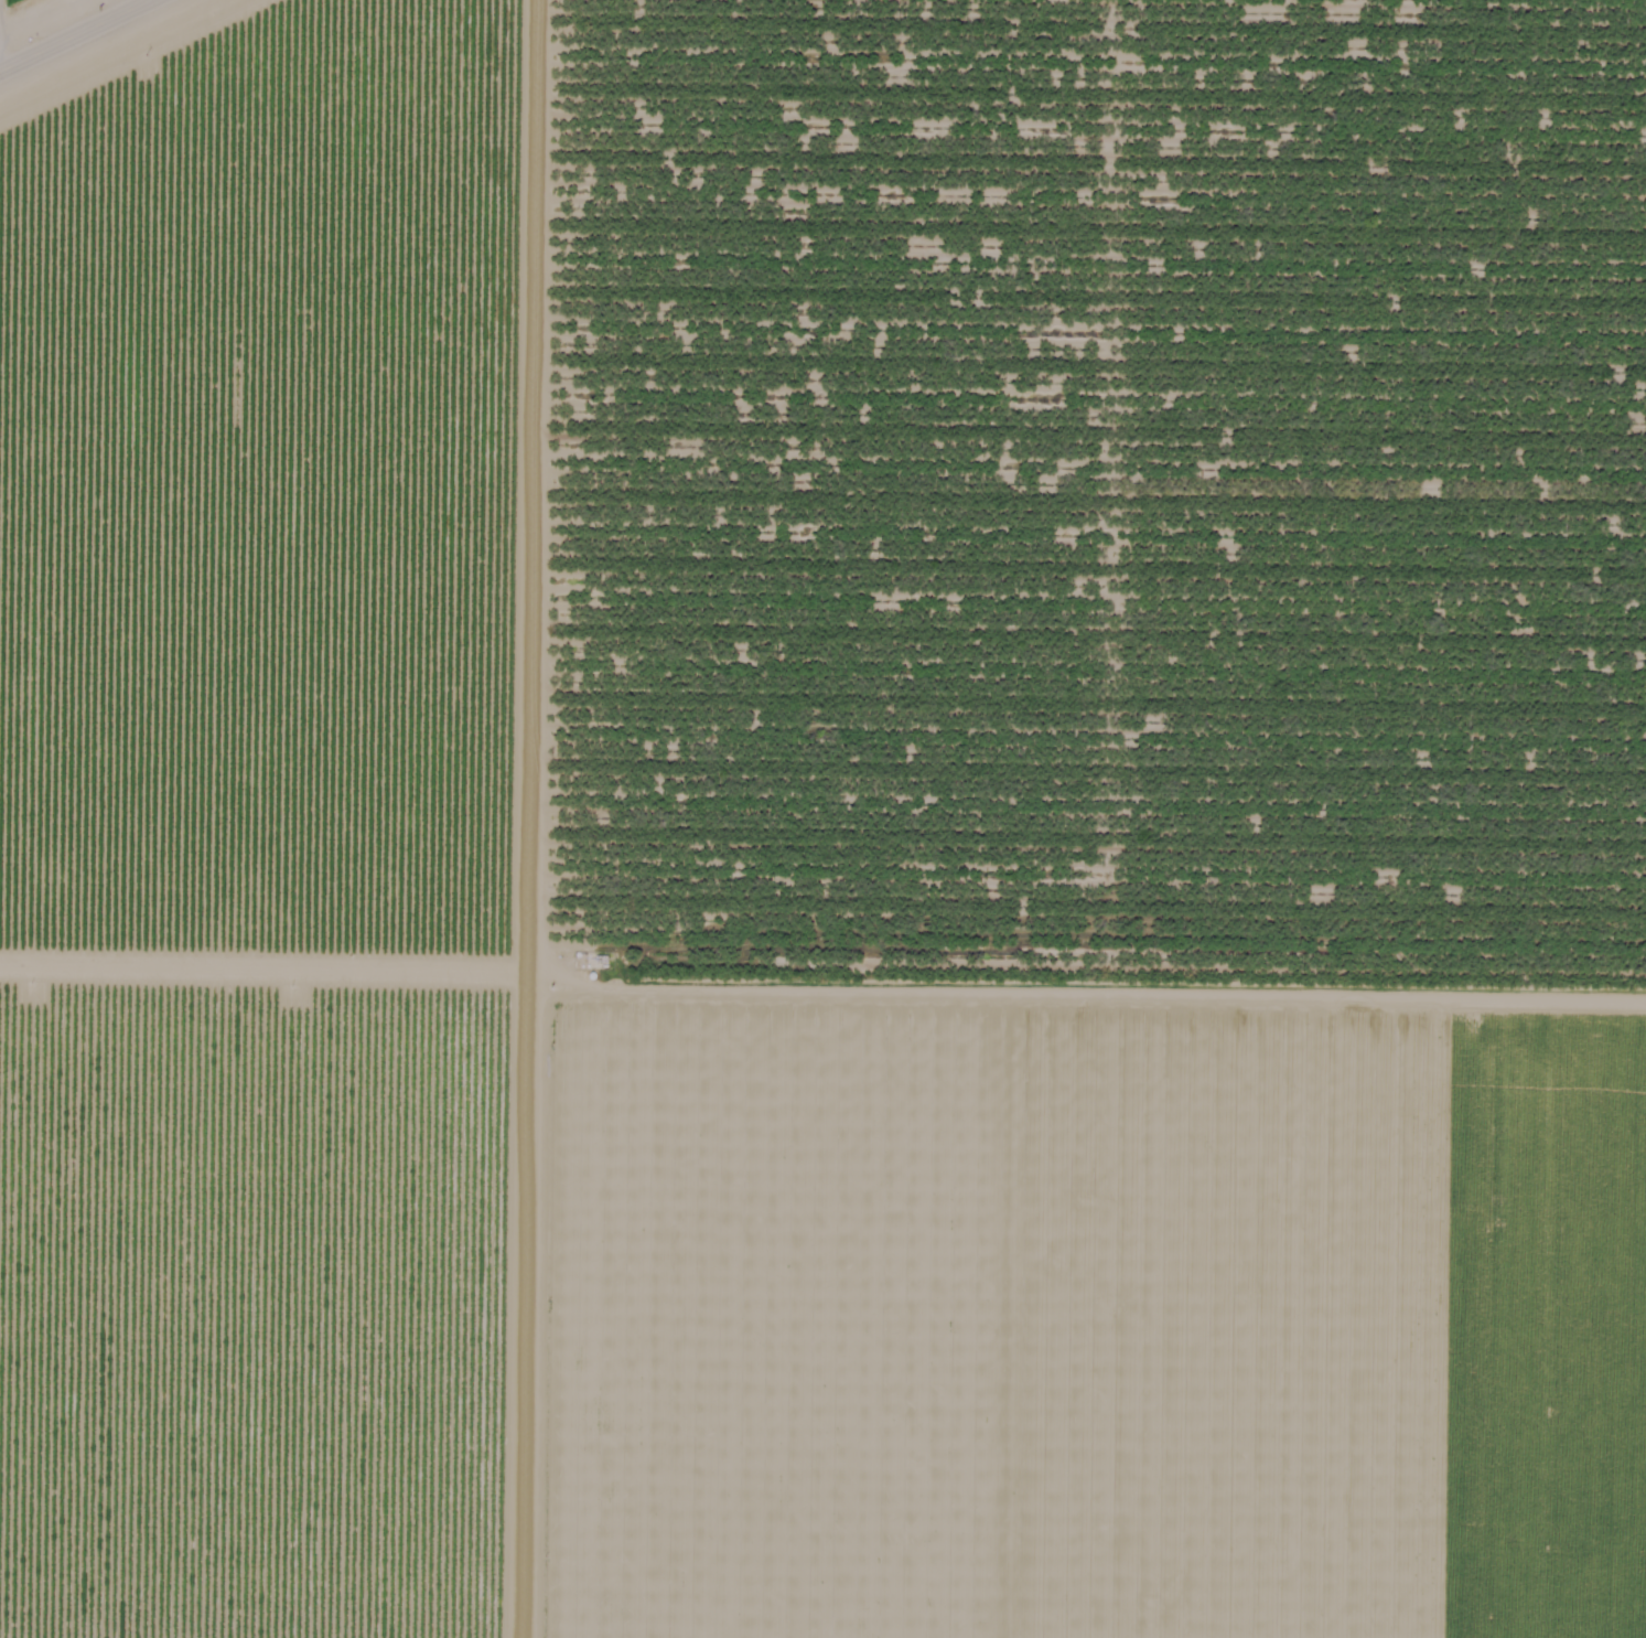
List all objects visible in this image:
crop: (58, 1)
road: (121, 8)
road: (78, 36)
road: (0, 58)
road: (563, 818)
road: (1107, 931)
crop: (1109, 1303)

